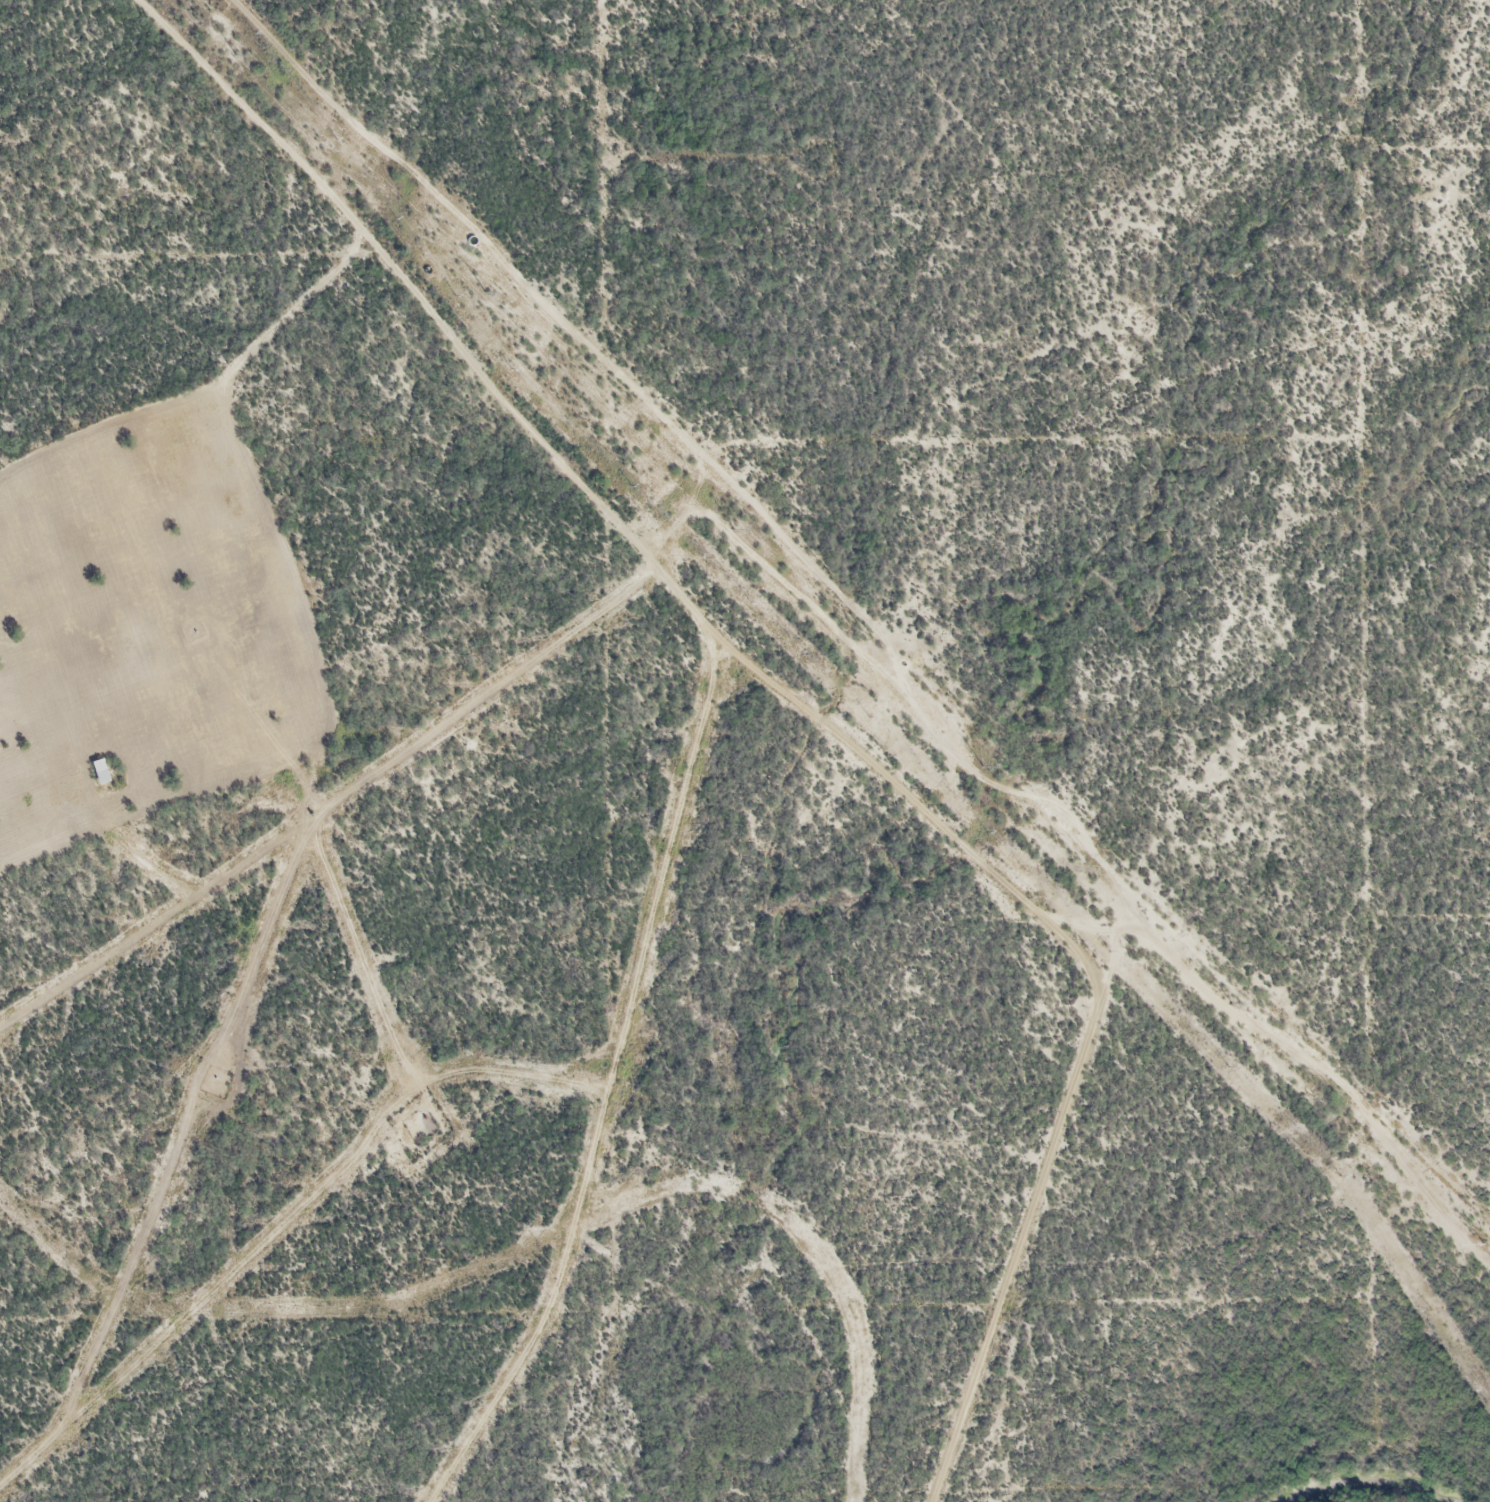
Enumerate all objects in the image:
power tower: (236, 56)
power tower: (485, 293)
power tower: (734, 531)
power tower: (982, 768)
building: (101, 772)
power tower: (1233, 1004)
power tower: (1483, 1244)

